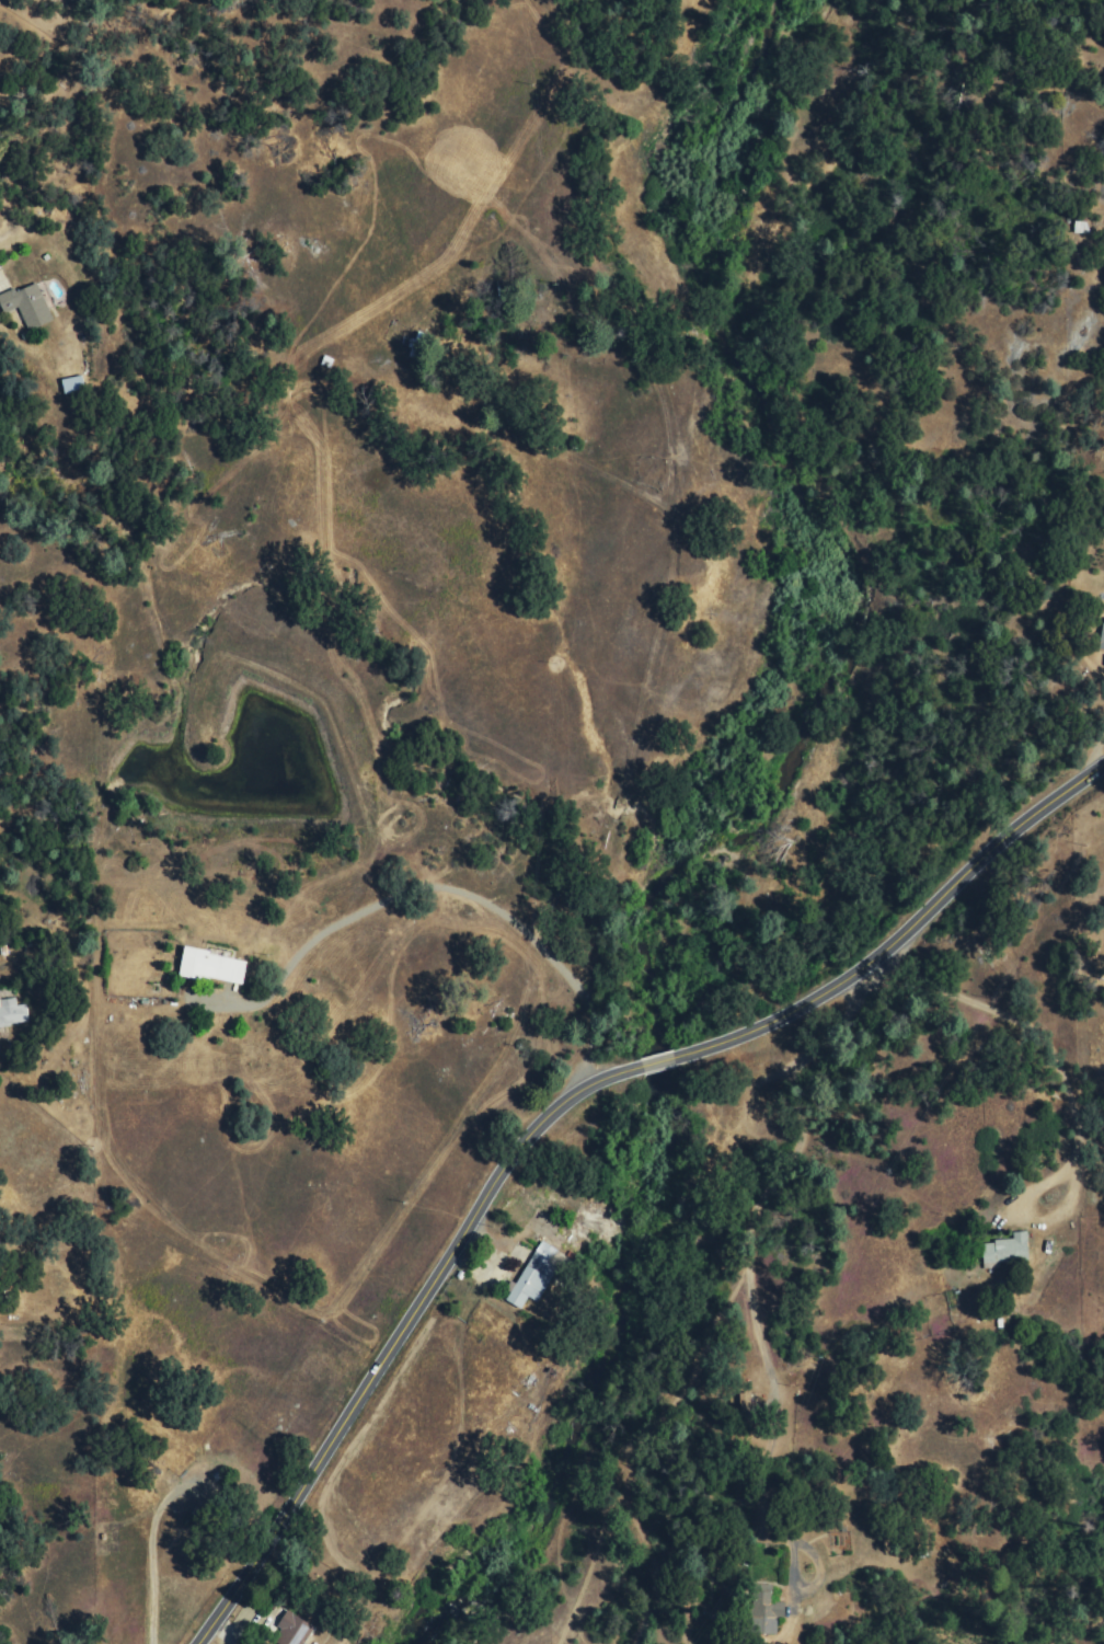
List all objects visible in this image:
building: (30, 303)
building: (76, 382)
building: (1101, 632)
road: (1072, 854)
building: (217, 965)
building: (14, 1010)
road: (1042, 1049)
road: (561, 1111)
road: (734, 1232)
building: (1003, 1249)
building: (529, 1273)
building: (760, 1609)
building: (289, 1628)

